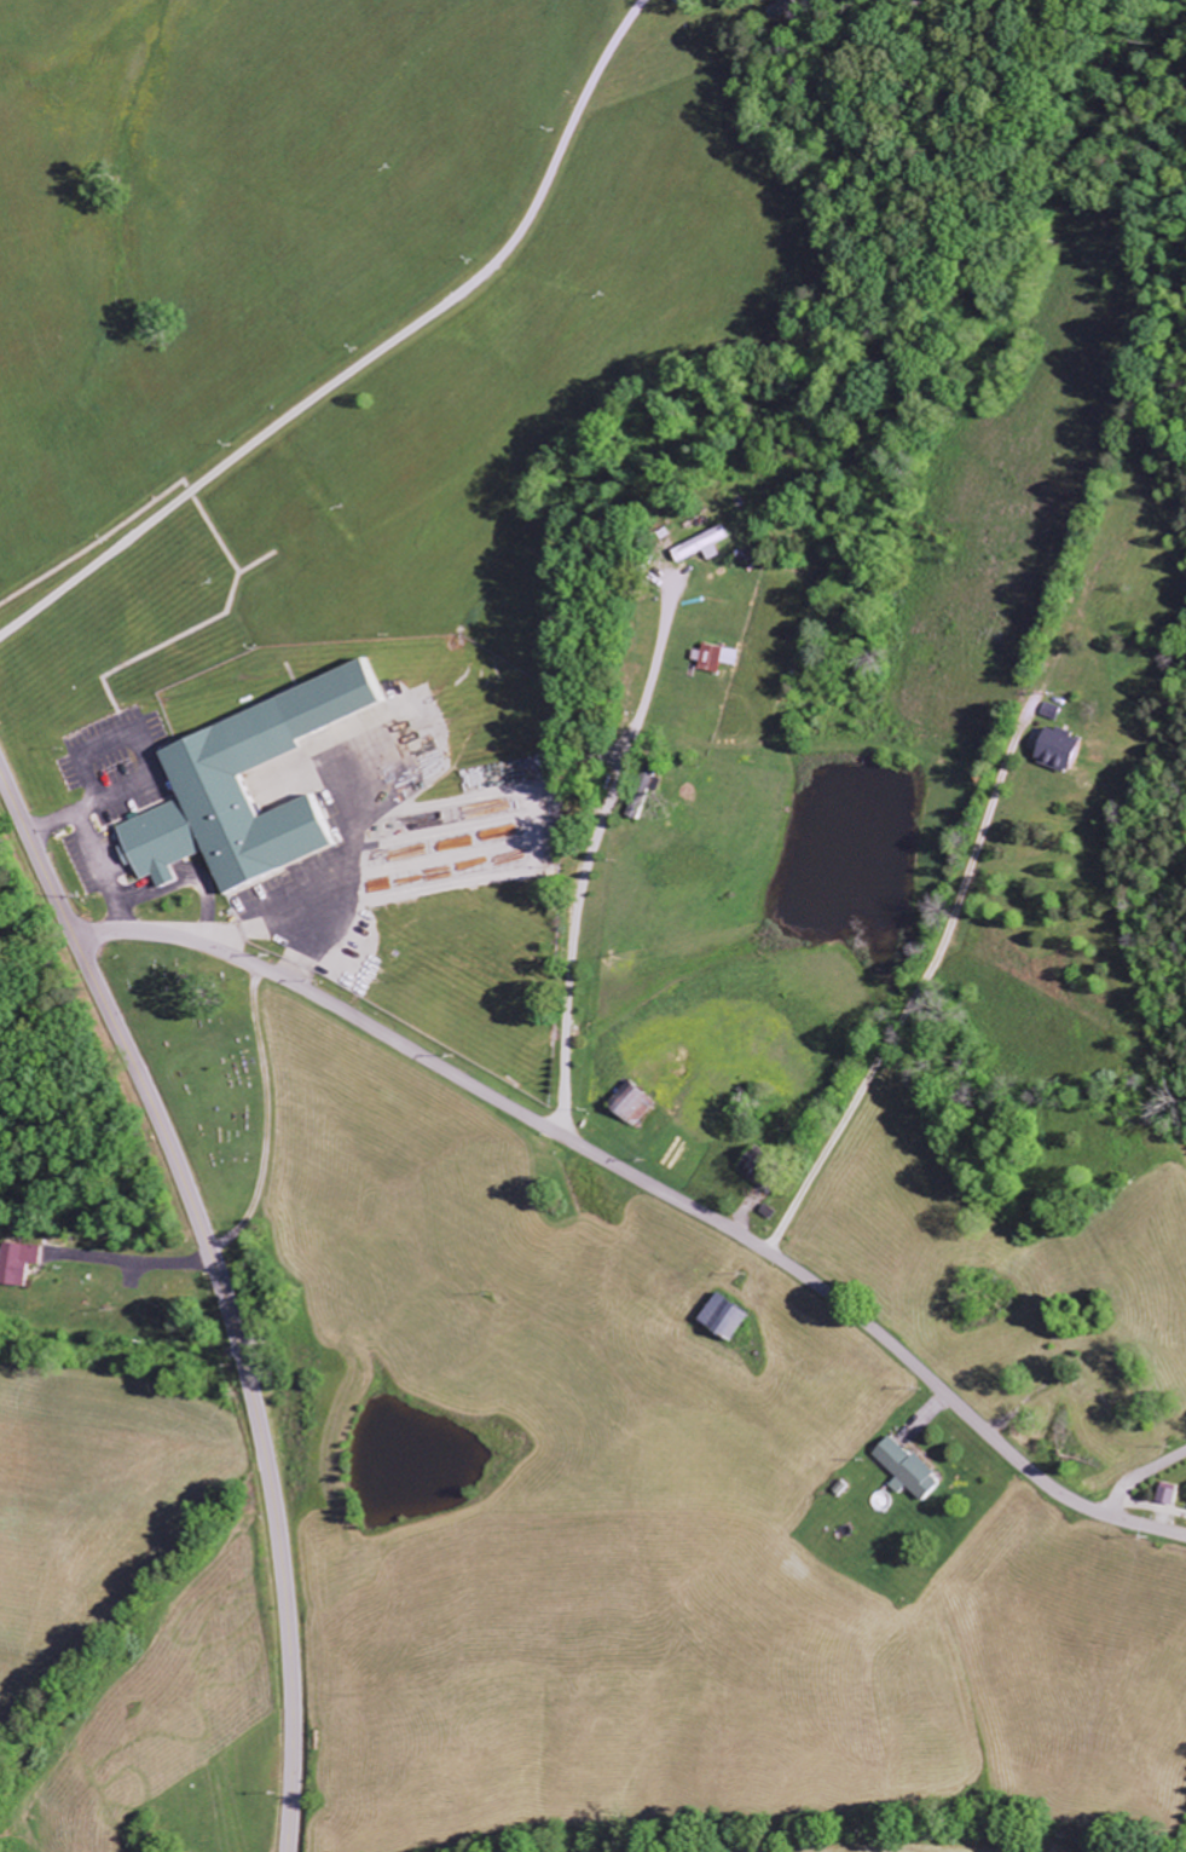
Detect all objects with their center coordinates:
building: (670, 0)
building: (701, 546)
building: (711, 658)
building: (1049, 711)
building: (1053, 748)
building: (239, 789)
building: (626, 1106)
road: (652, 1185)
building: (16, 1263)
road: (224, 1291)
building: (718, 1319)
building: (903, 1470)
road: (1138, 1473)

